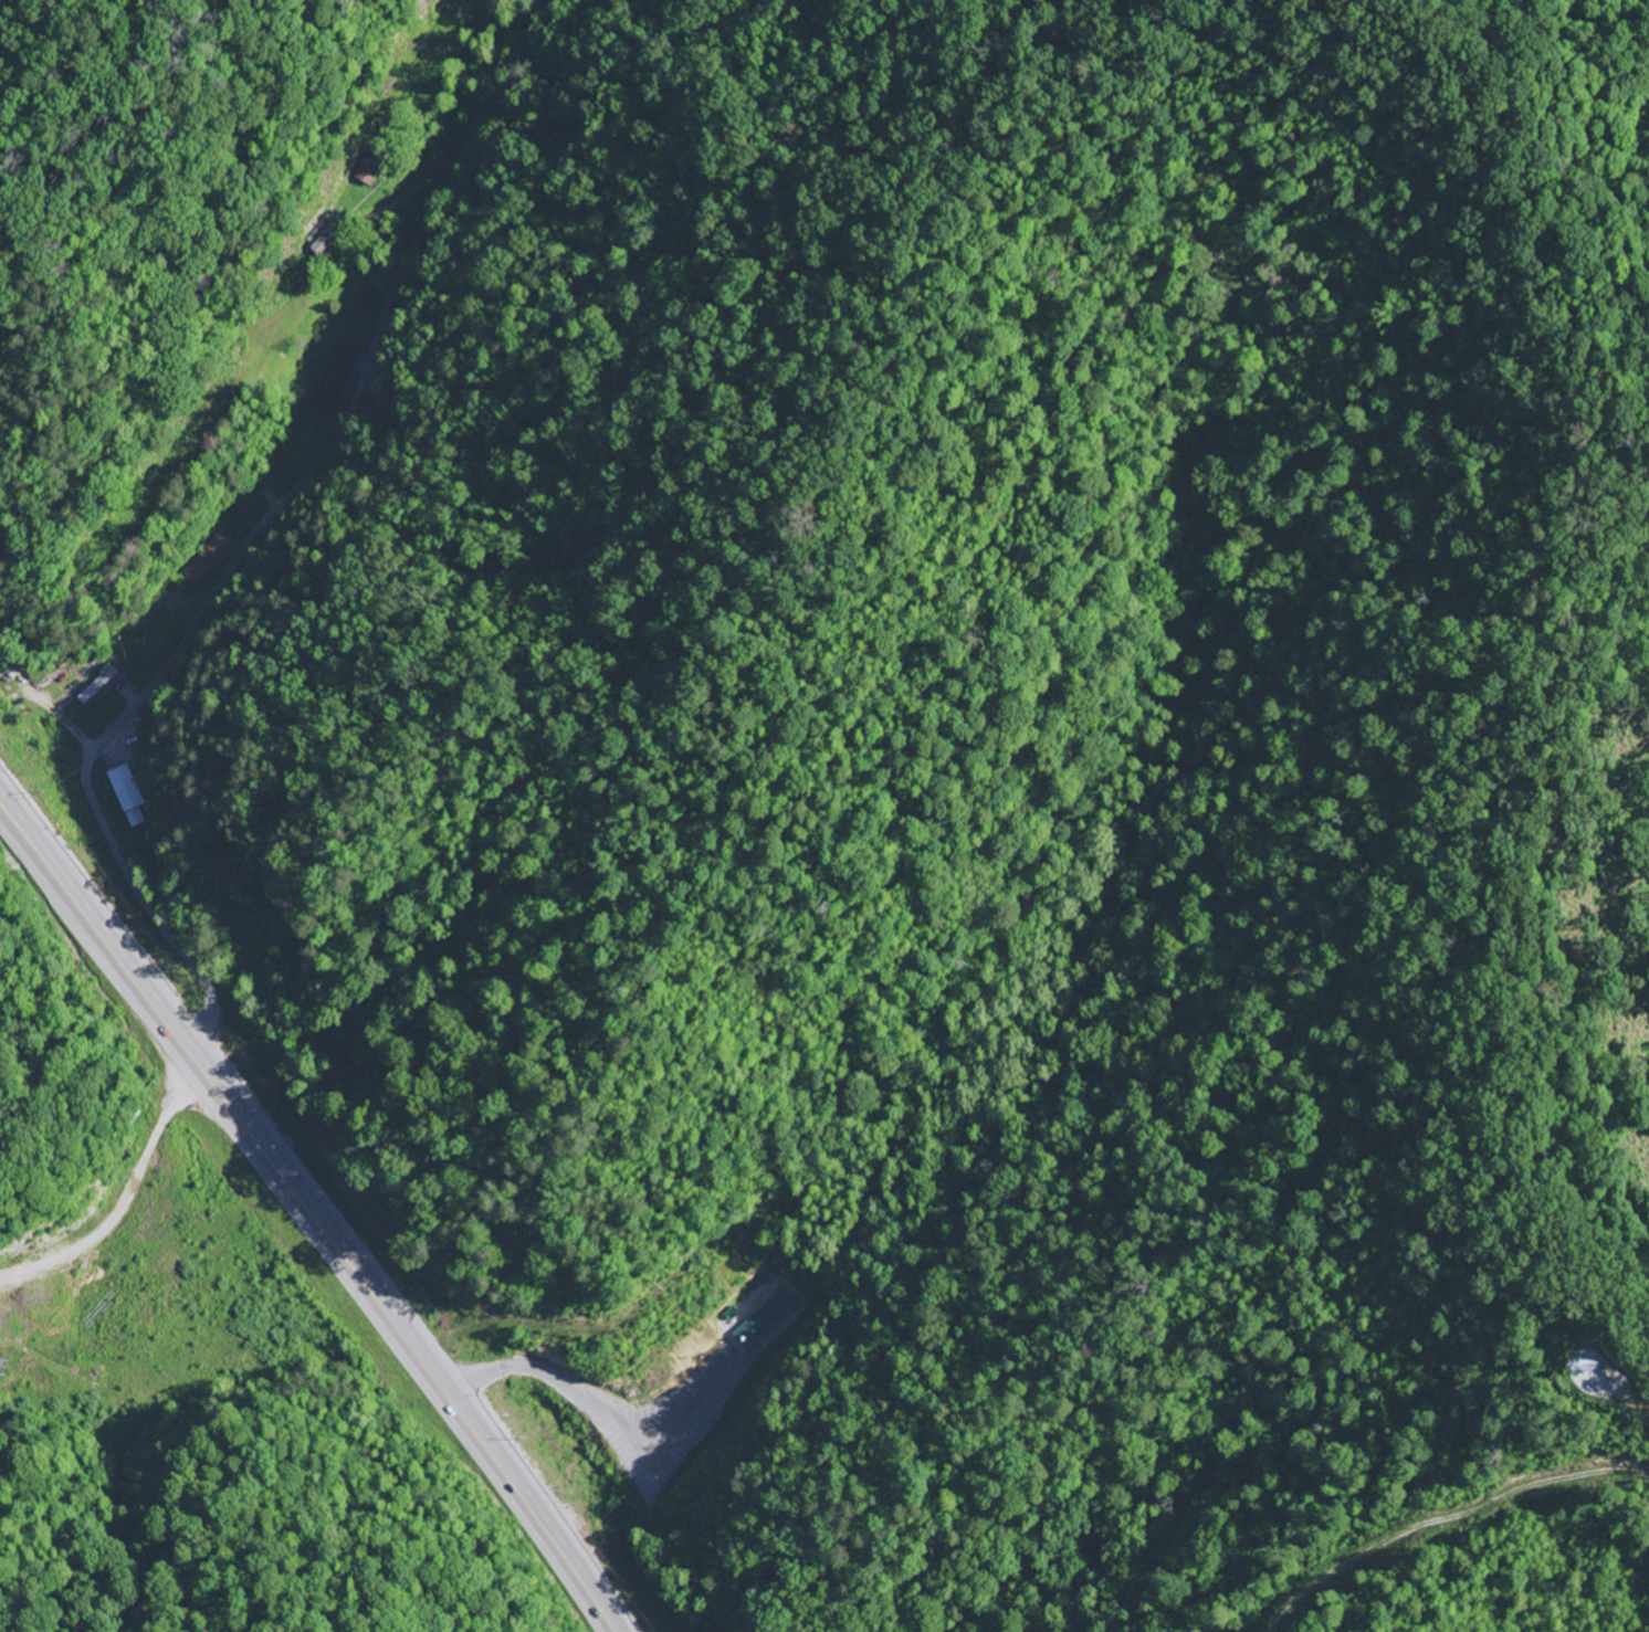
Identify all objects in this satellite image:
building: (380, 277)
building: (334, 379)
road: (259, 536)
building: (207, 559)
building: (98, 684)
building: (127, 796)
road: (309, 1215)
road: (607, 1413)

